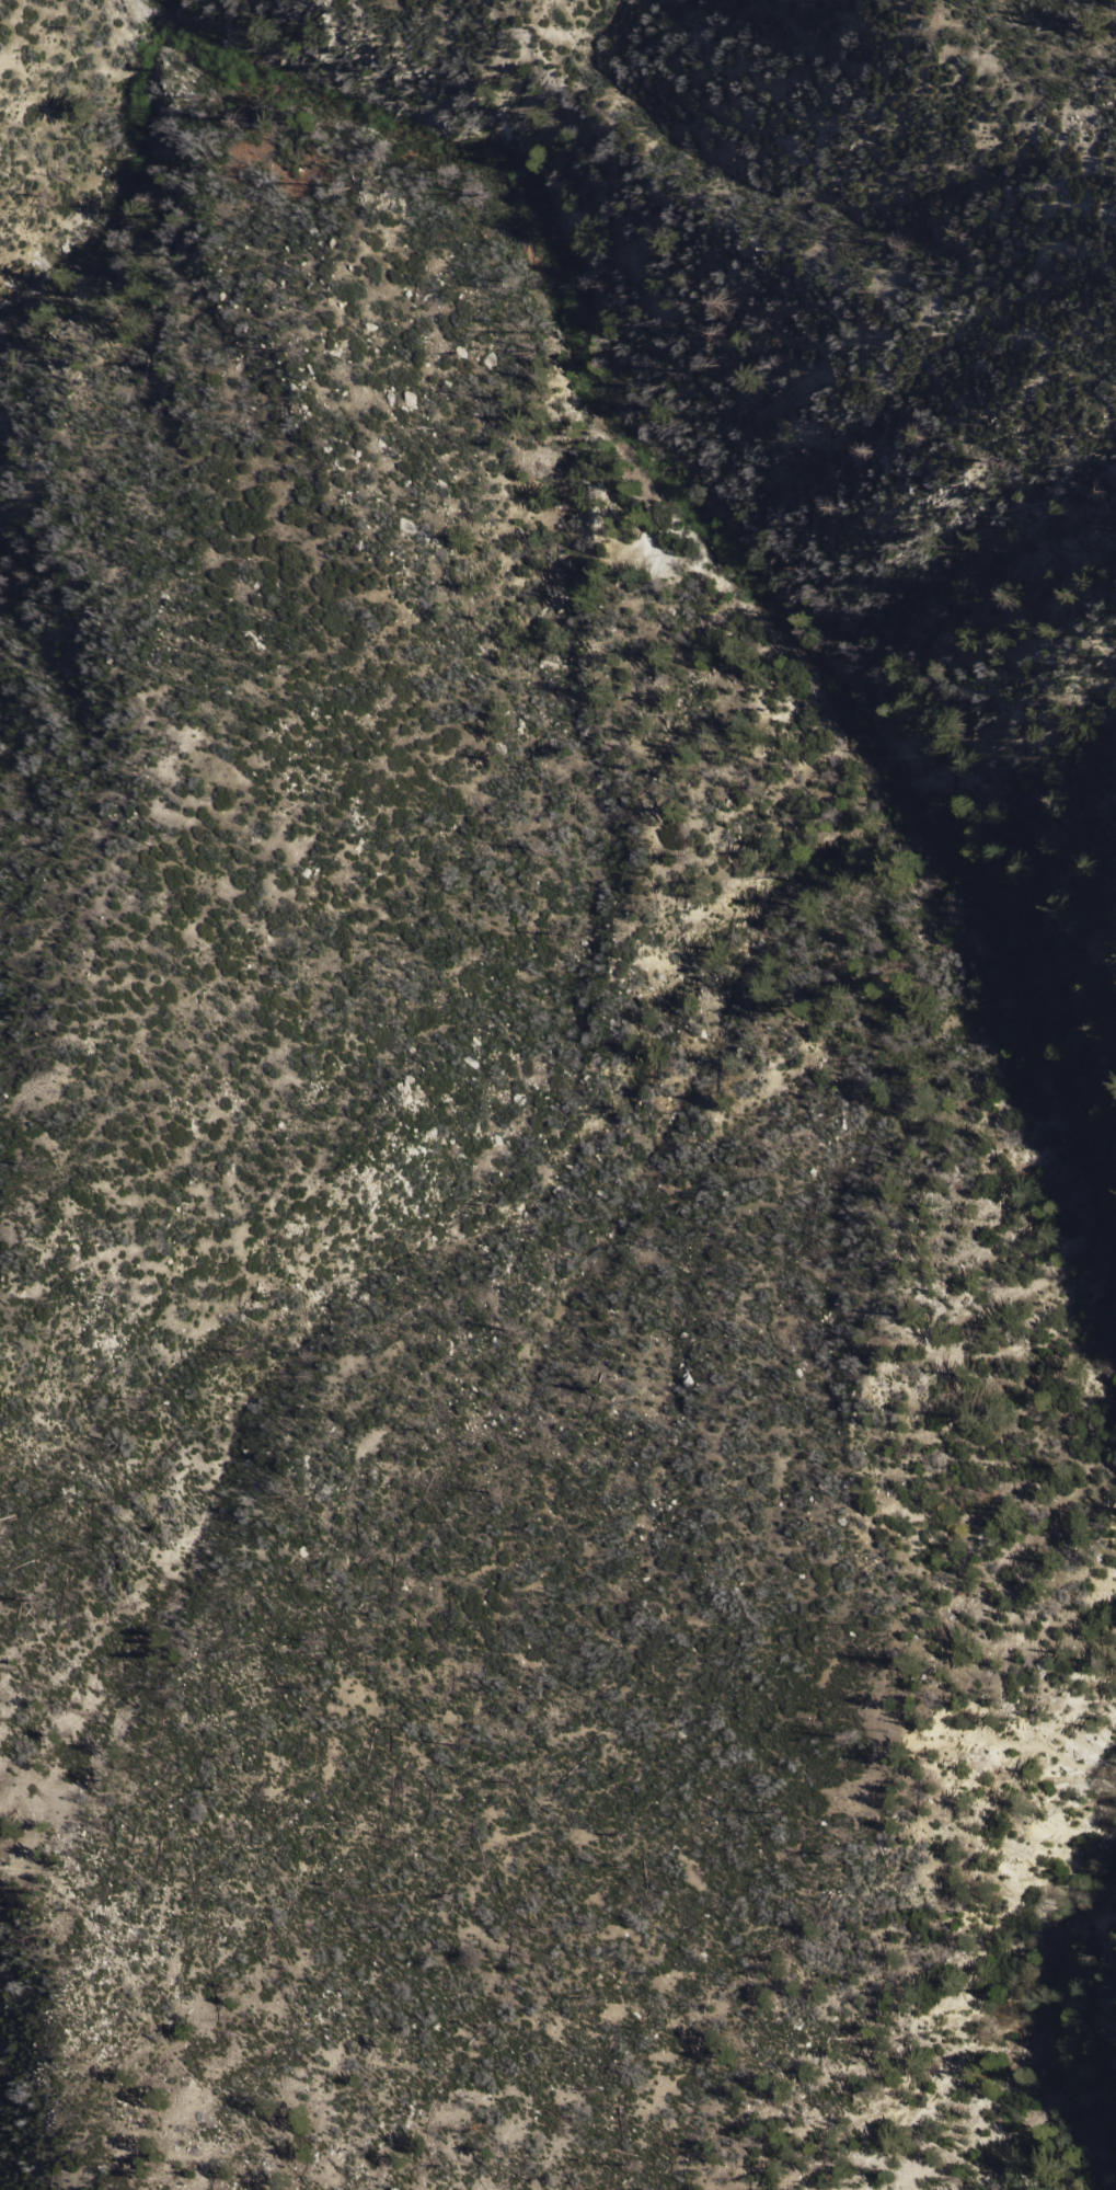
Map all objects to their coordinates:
road: (150, 2015)

